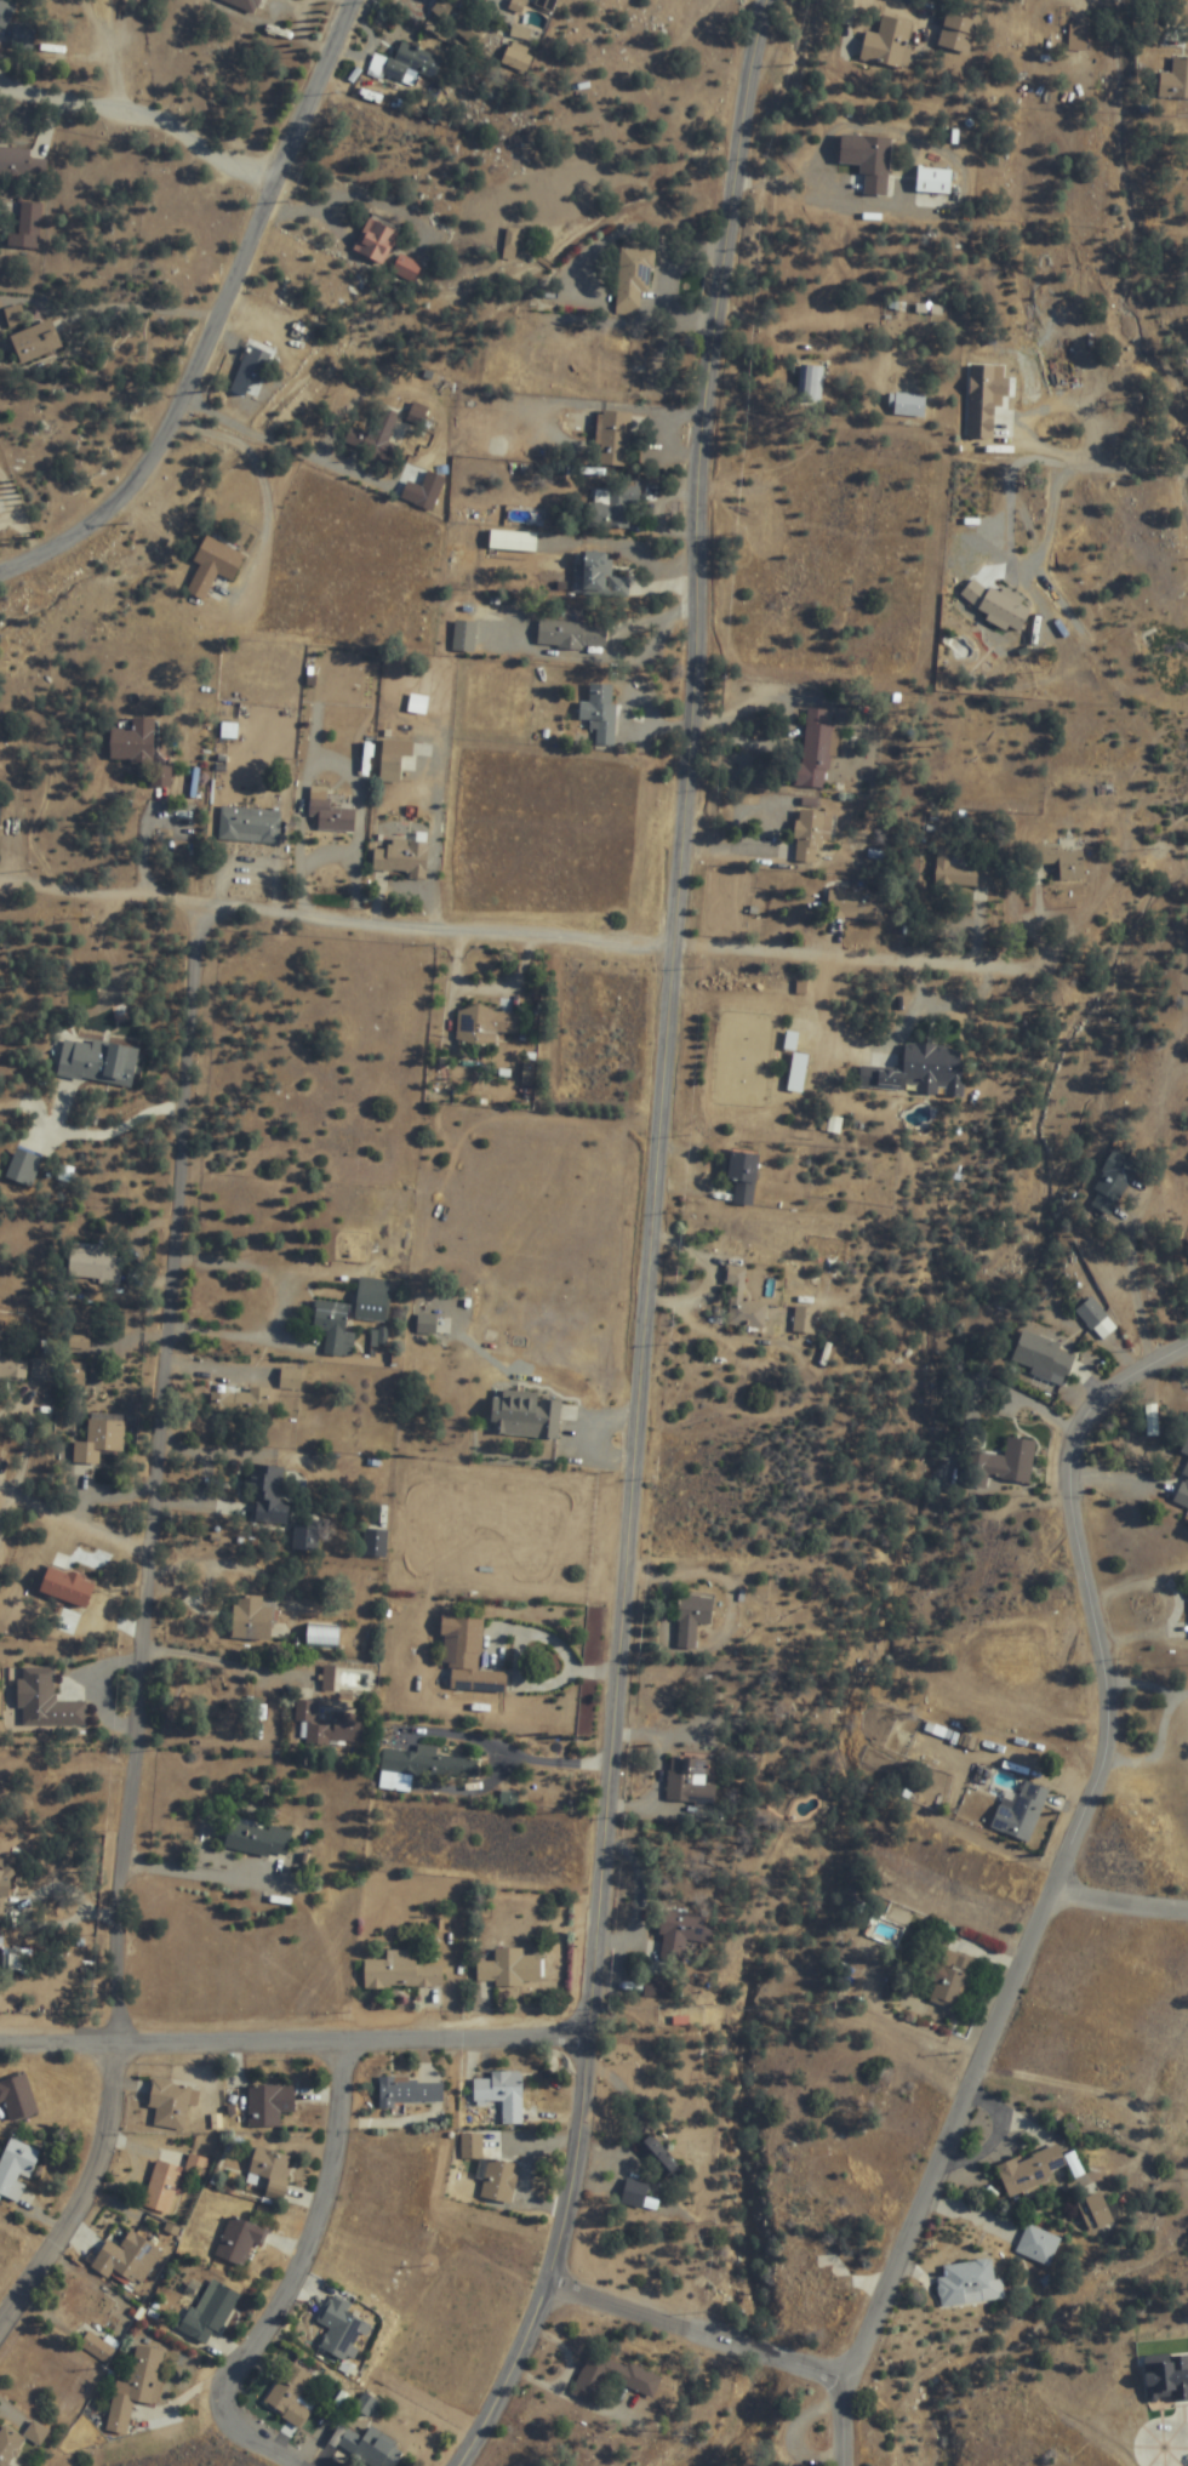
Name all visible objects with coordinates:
building: (247, 4)
building: (5, 13)
building: (958, 33)
building: (1079, 36)
building: (22, 38)
building: (889, 42)
building: (411, 63)
building: (1175, 80)
road: (147, 118)
building: (868, 160)
building: (21, 165)
building: (935, 181)
building: (27, 227)
building: (375, 241)
building: (406, 268)
building: (633, 280)
building: (15, 318)
road: (221, 324)
building: (34, 343)
building: (612, 363)
building: (250, 371)
building: (810, 383)
building: (909, 405)
building: (983, 405)
building: (373, 439)
building: (613, 439)
building: (429, 495)
building: (615, 507)
road: (1170, 549)
building: (213, 566)
building: (601, 577)
building: (984, 607)
building: (467, 634)
building: (571, 635)
building: (600, 714)
building: (132, 743)
building: (816, 748)
building: (394, 760)
building: (0, 804)
building: (329, 812)
building: (250, 826)
building: (811, 834)
building: (401, 858)
building: (1057, 861)
building: (964, 868)
building: (859, 907)
road: (510, 941)
building: (485, 1026)
building: (97, 1063)
building: (921, 1073)
building: (23, 1169)
building: (743, 1177)
building: (1112, 1186)
road: (655, 1243)
building: (372, 1300)
building: (739, 1303)
building: (1092, 1314)
building: (804, 1322)
building: (427, 1325)
building: (335, 1331)
building: (1045, 1358)
building: (13, 1370)
building: (78, 1374)
building: (292, 1378)
building: (240, 1403)
building: (526, 1416)
building: (99, 1438)
building: (1186, 1450)
building: (1001, 1467)
road: (153, 1478)
building: (267, 1492)
building: (1183, 1492)
road: (69, 1524)
building: (305, 1535)
building: (67, 1586)
building: (251, 1617)
building: (692, 1619)
building: (322, 1636)
building: (468, 1655)
building: (46, 1700)
building: (331, 1726)
building: (430, 1762)
building: (690, 1781)
building: (935, 1781)
building: (1021, 1811)
building: (257, 1838)
building: (2, 1895)
road: (1060, 1896)
road: (1123, 1908)
building: (682, 1933)
building: (509, 1966)
building: (400, 1971)
building: (949, 1976)
building: (657, 1987)
road: (298, 2045)
building: (411, 2091)
building: (502, 2094)
building: (17, 2097)
building: (169, 2103)
building: (269, 2103)
building: (472, 2146)
building: (658, 2159)
building: (196, 2163)
building: (16, 2169)
building: (1032, 2169)
building: (269, 2171)
building: (499, 2181)
building: (162, 2187)
building: (635, 2193)
road: (84, 2202)
building: (1096, 2211)
road: (316, 2237)
building: (240, 2240)
building: (1038, 2244)
building: (127, 2259)
building: (970, 2284)
building: (811, 2290)
building: (78, 2306)
building: (210, 2310)
road: (703, 2325)
building: (341, 2328)
building: (98, 2342)
road: (1181, 2353)
building: (612, 2377)
building: (1166, 2377)
building: (136, 2386)
building: (290, 2396)
building: (367, 2405)
building: (35, 2432)
road: (264, 2439)
building: (10, 2445)
building: (367, 2447)

